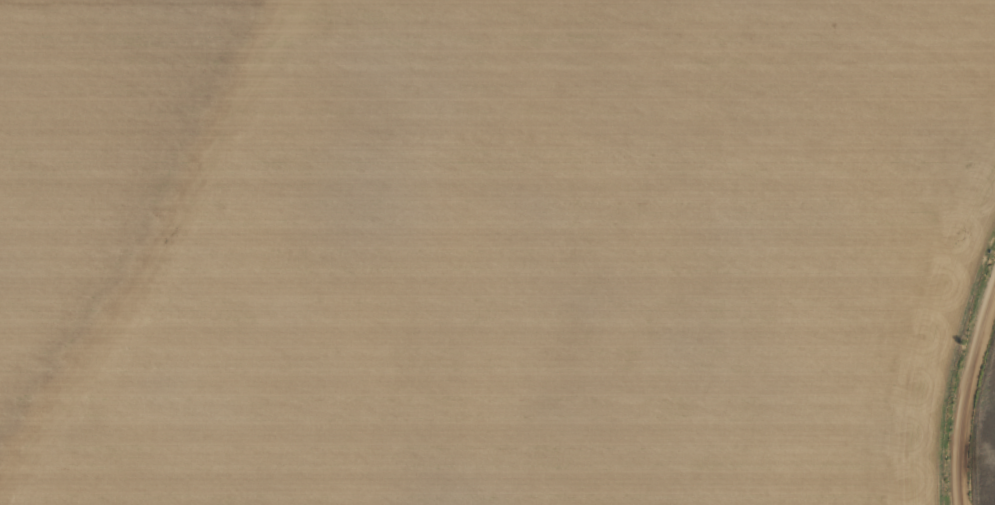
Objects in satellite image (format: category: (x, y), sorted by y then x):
road: (967, 393)

